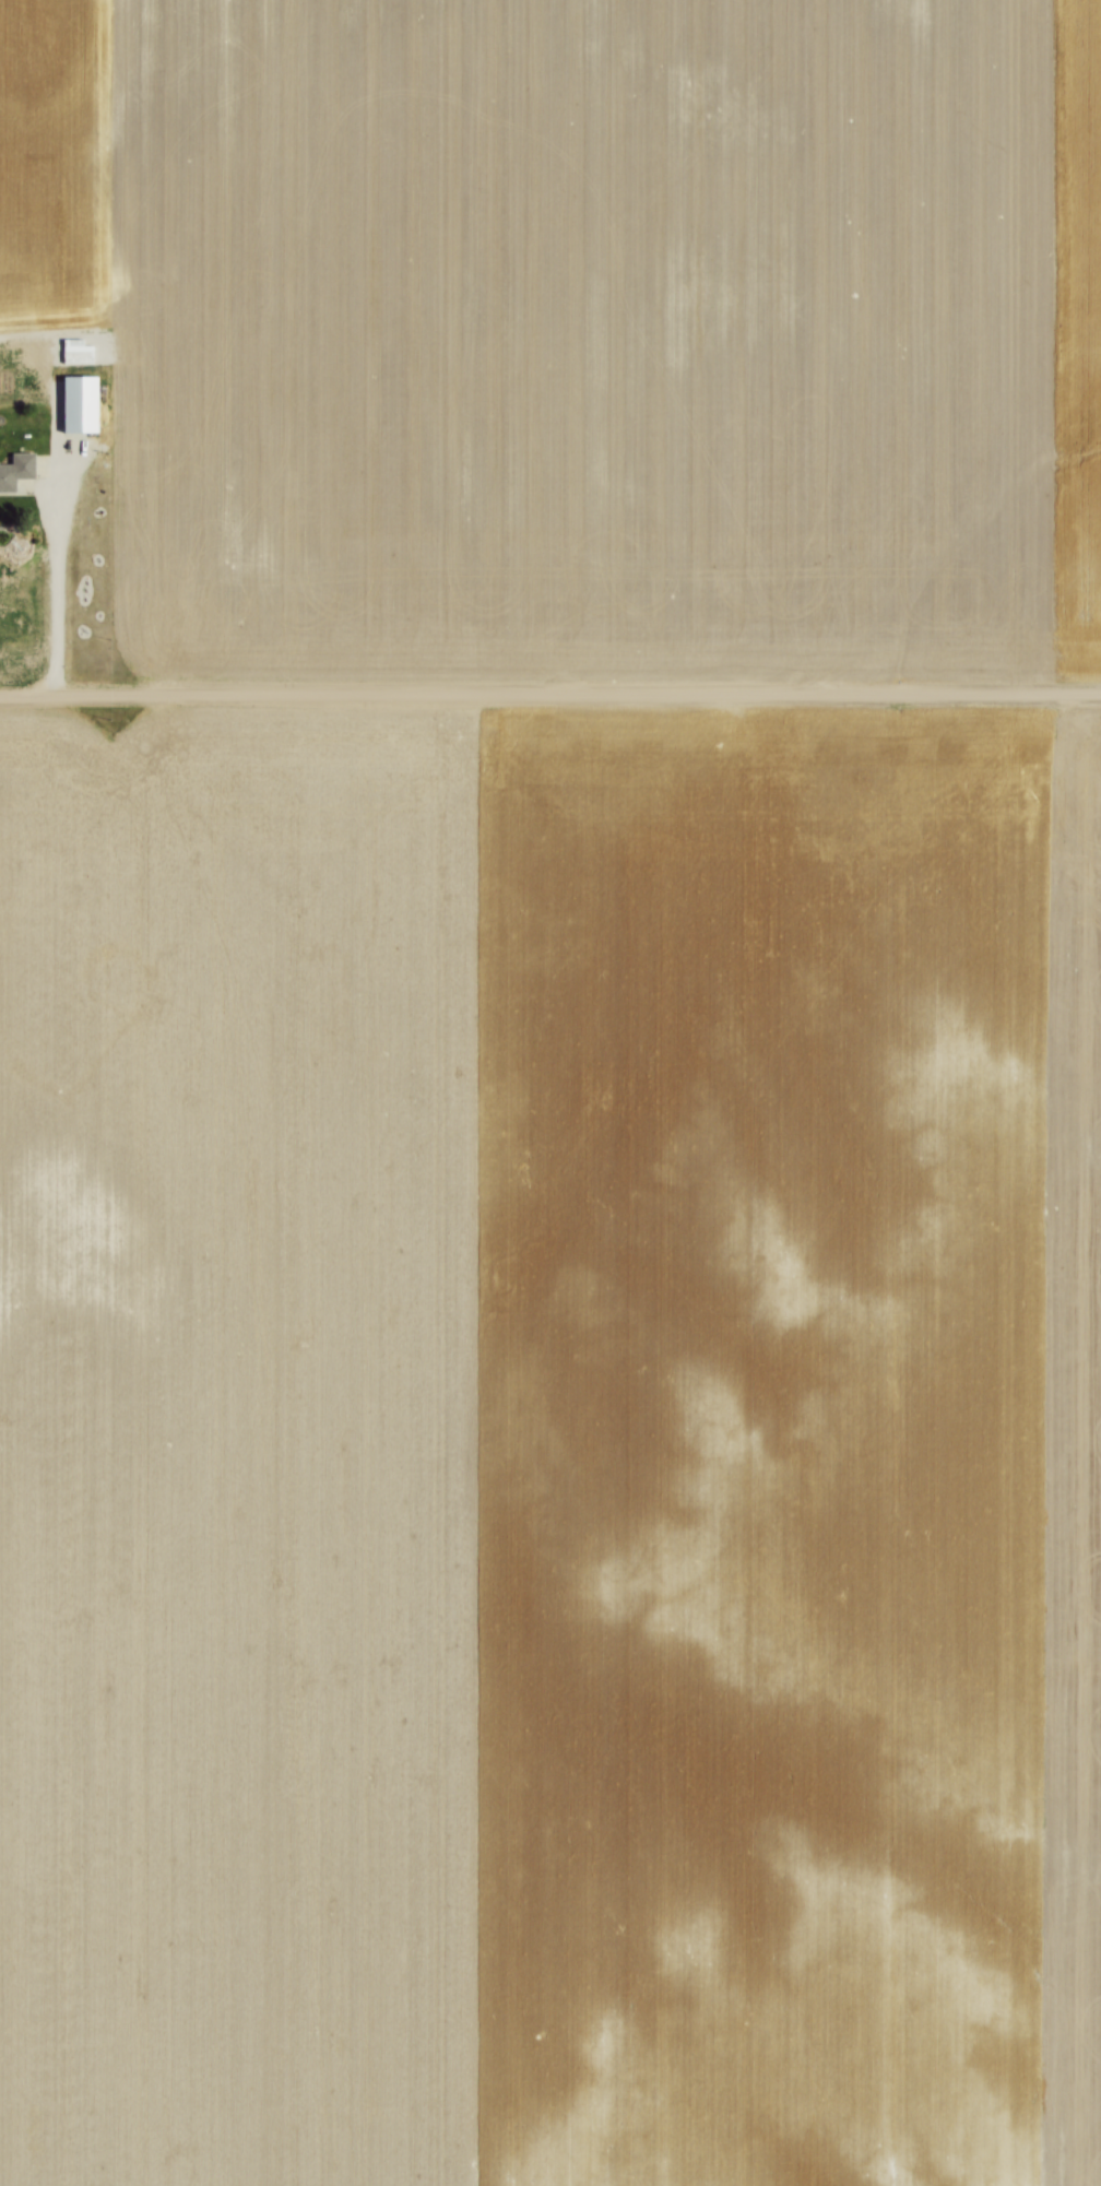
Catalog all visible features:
crop: (576, 331)
building: (75, 403)
building: (13, 468)
road: (50, 543)
road: (550, 700)
crop: (550, 1452)

